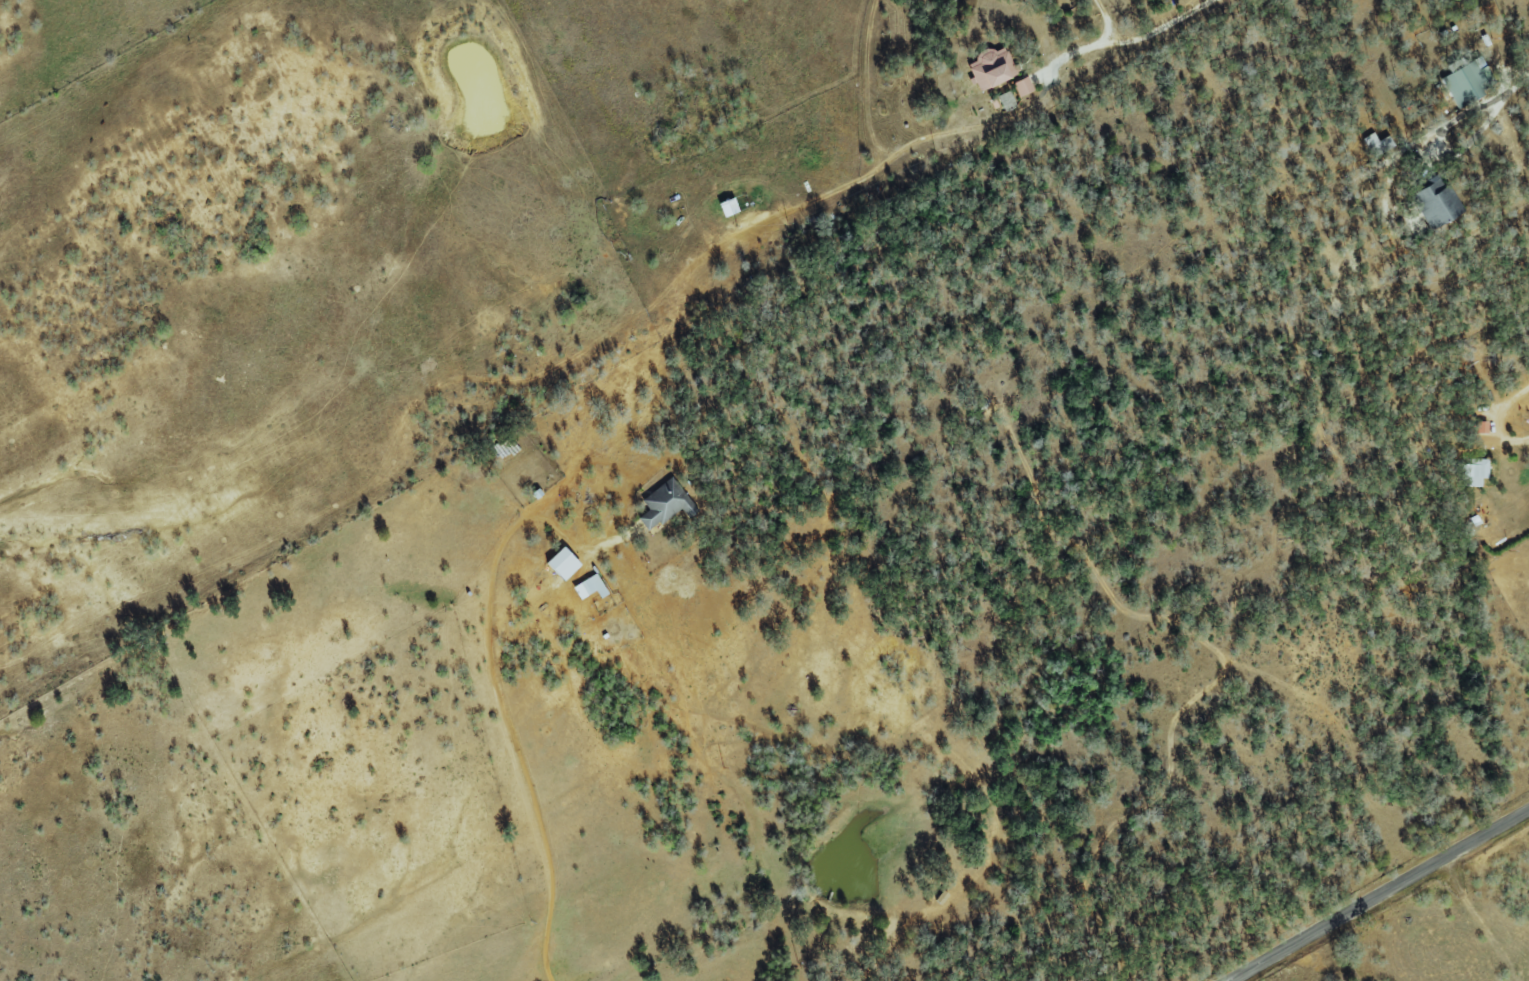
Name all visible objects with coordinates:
road: (1103, 21)
road: (1125, 41)
building: (990, 68)
road: (1519, 78)
building: (1466, 83)
building: (1022, 87)
building: (1375, 144)
road: (1441, 145)
building: (1434, 204)
building: (728, 207)
road: (1490, 421)
building: (1480, 427)
building: (1471, 472)
building: (664, 505)
building: (562, 564)
building: (588, 588)
road: (503, 705)
road: (1377, 894)

